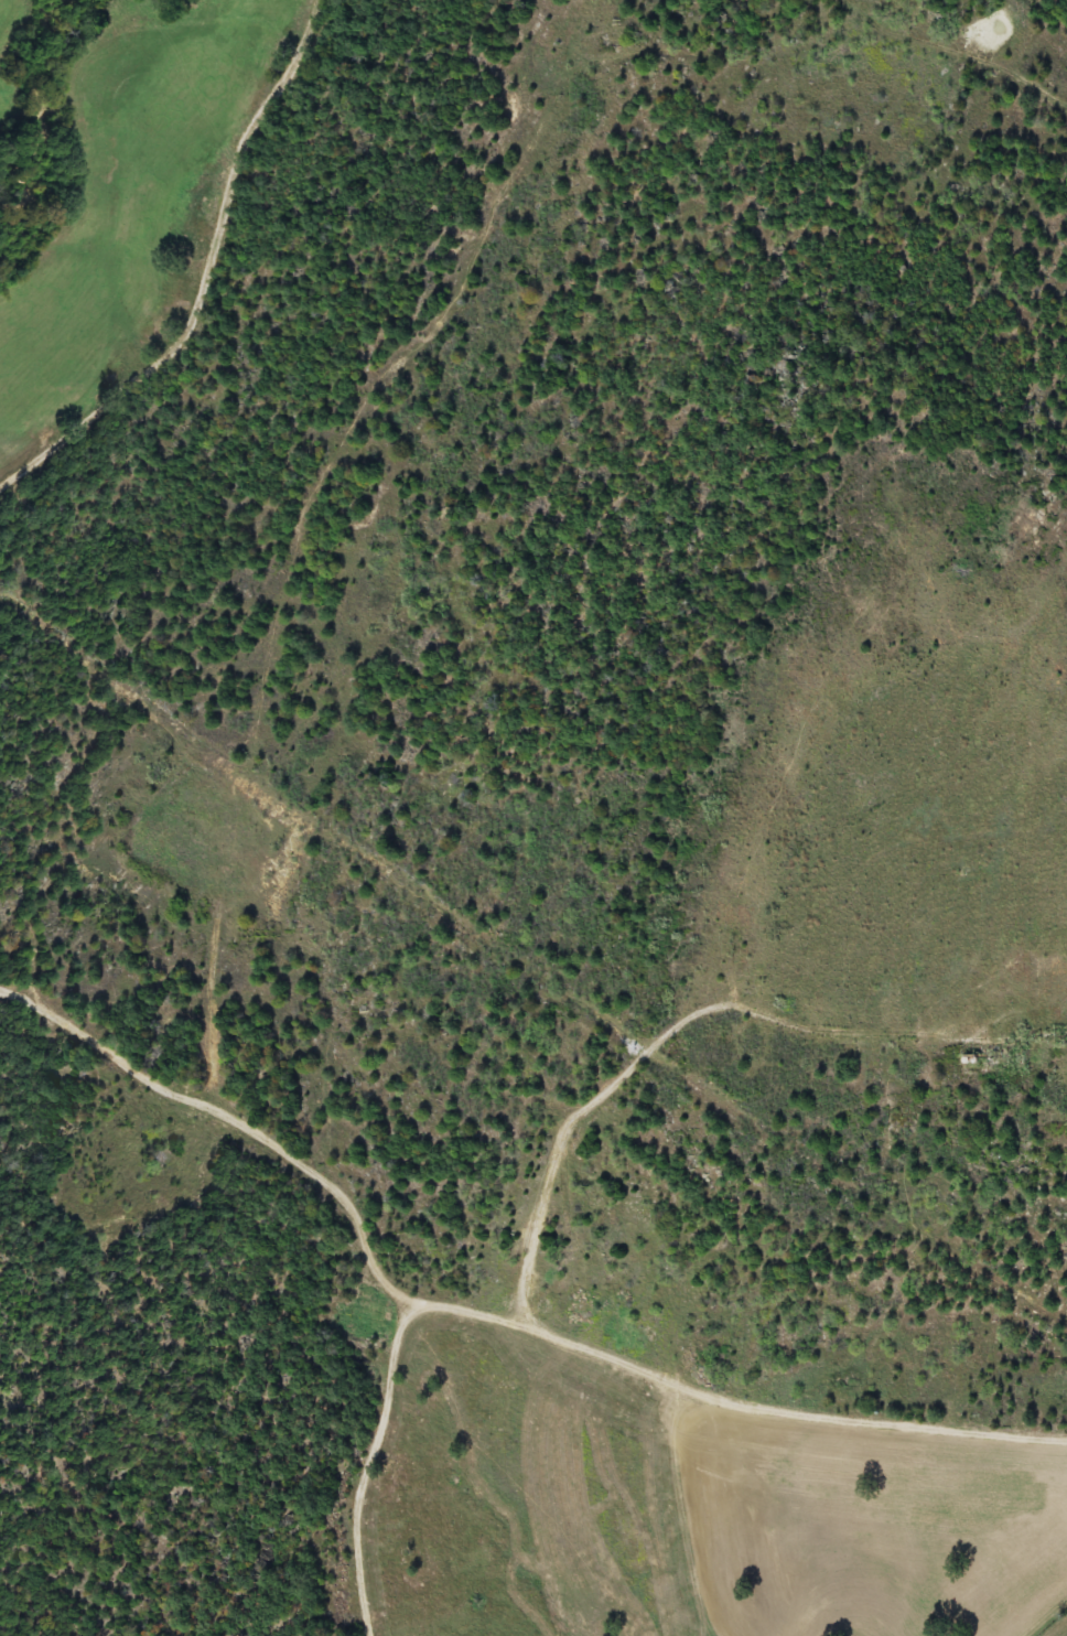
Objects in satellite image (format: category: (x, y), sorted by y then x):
road: (484, 1311)
road: (364, 1460)

